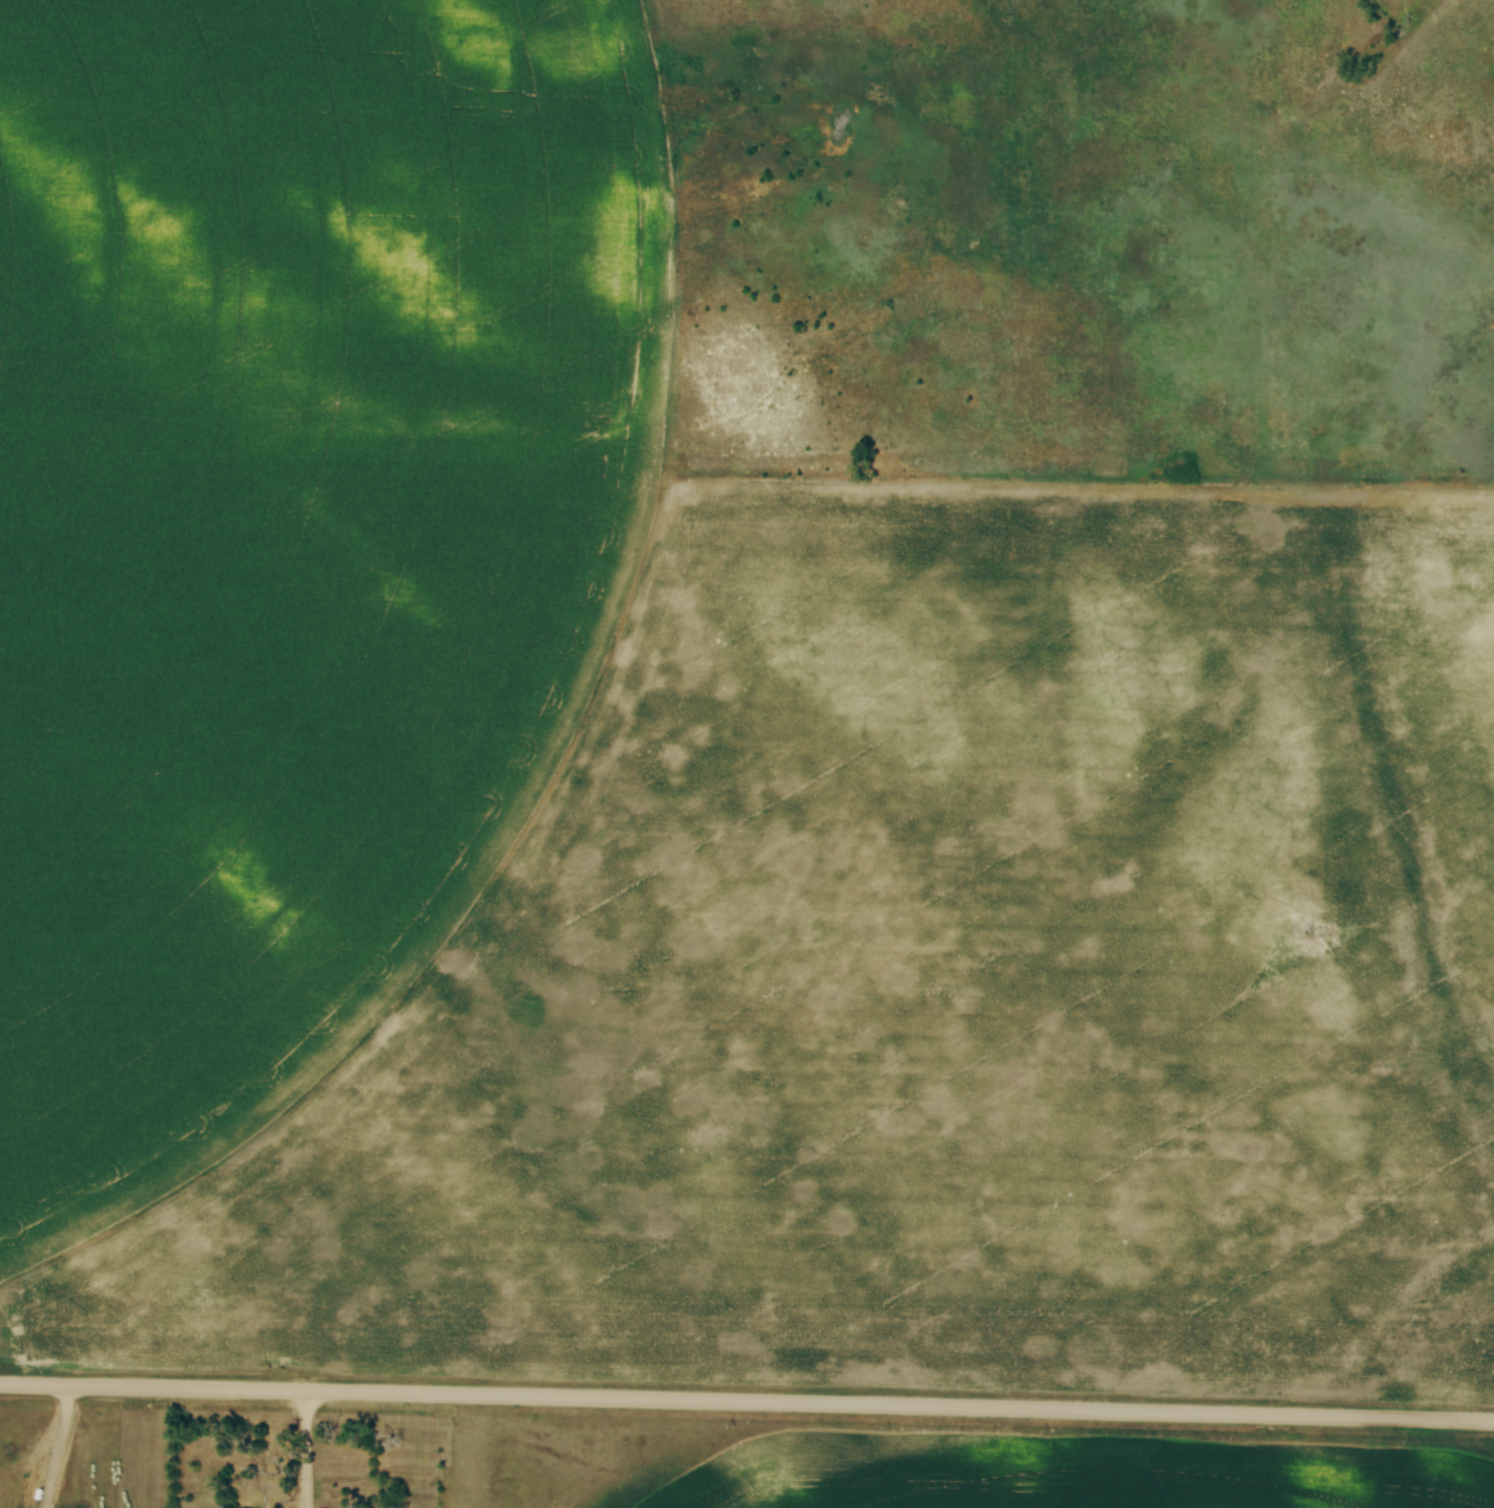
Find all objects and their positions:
road: (747, 1401)
road: (306, 1449)

